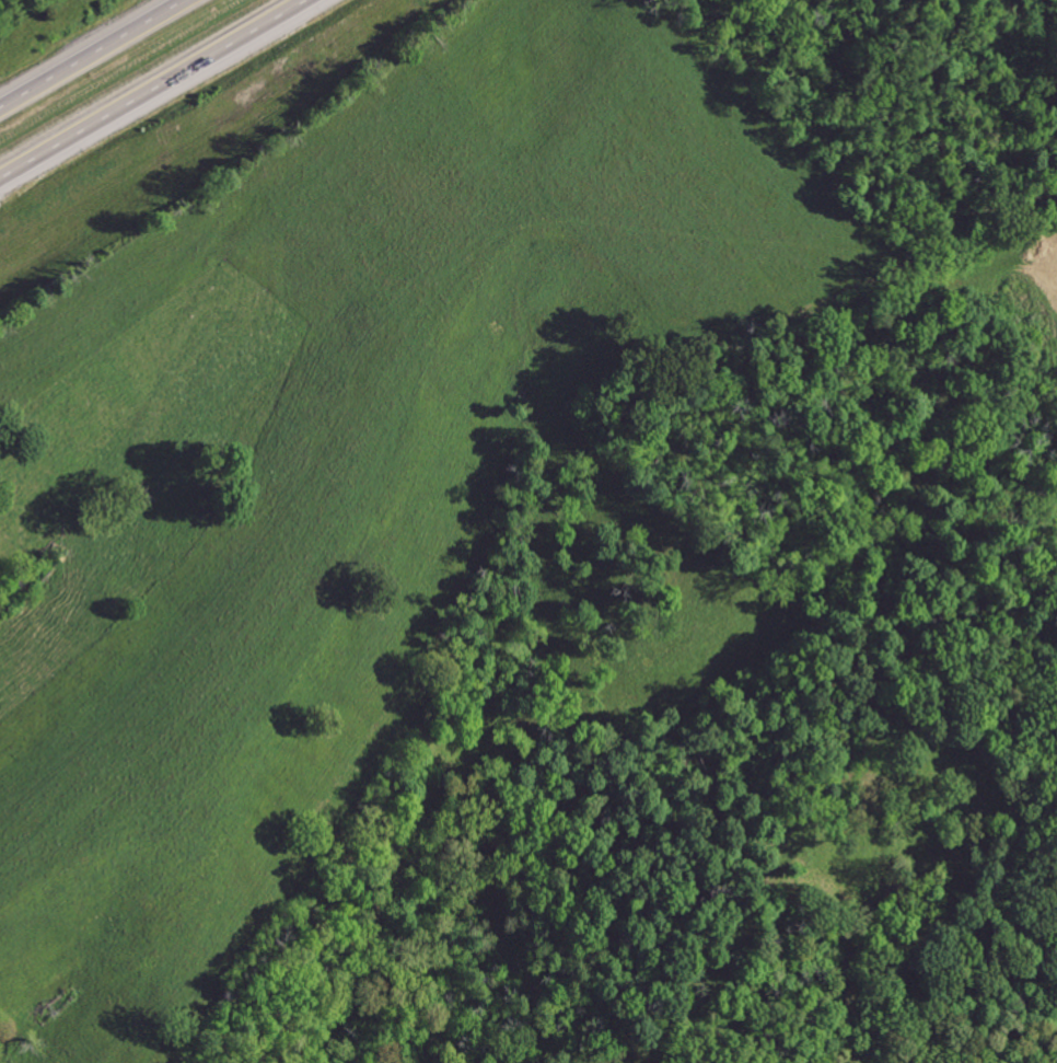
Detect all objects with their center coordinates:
road: (96, 56)
road: (164, 106)

